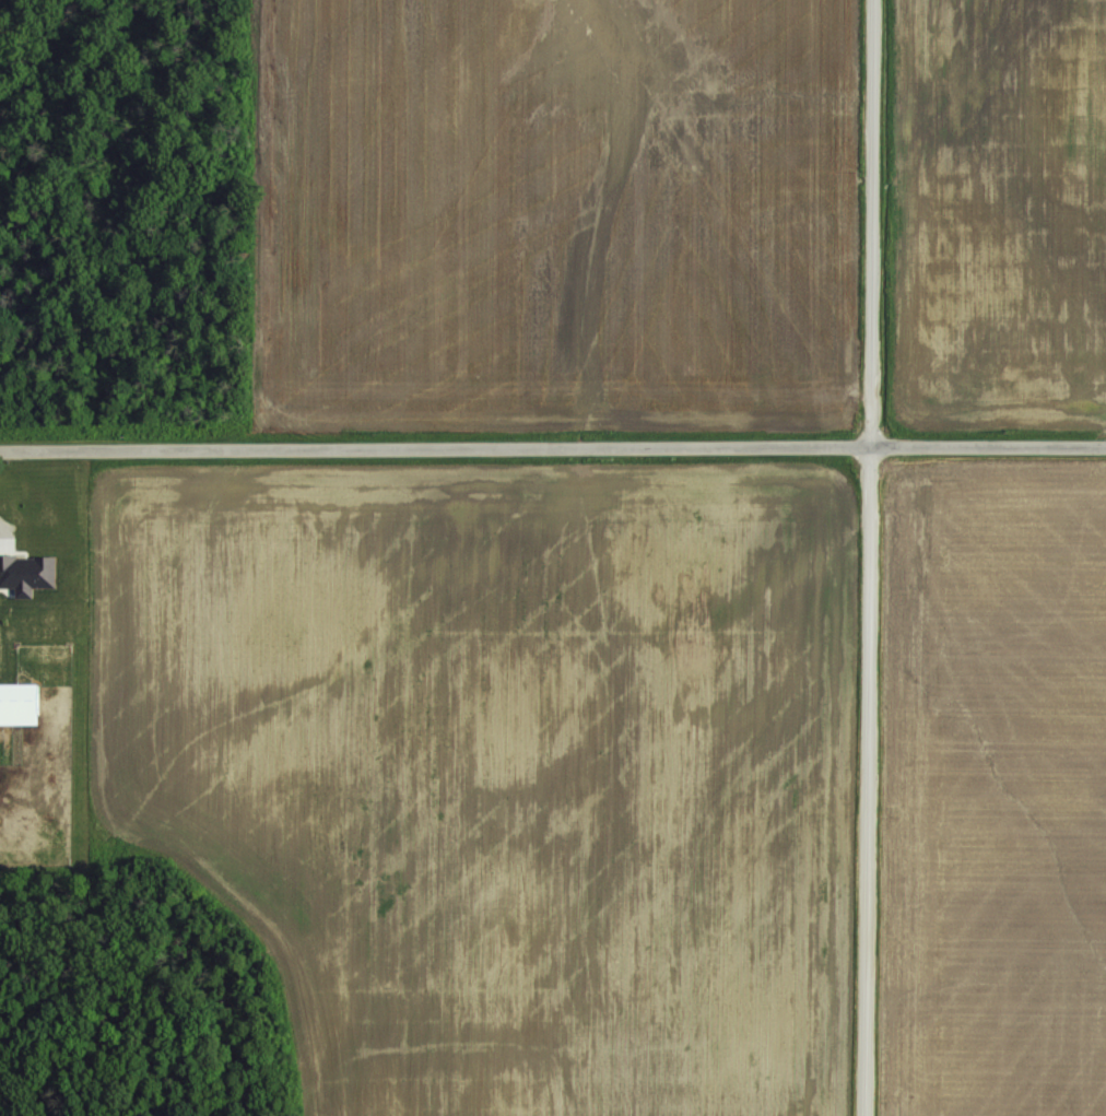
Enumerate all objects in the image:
road: (552, 430)
road: (845, 557)
building: (26, 571)
building: (19, 701)

